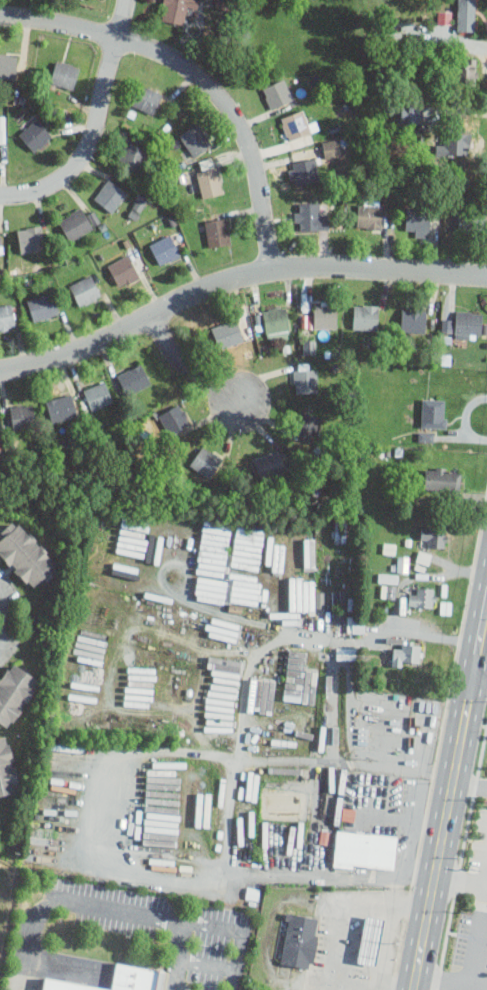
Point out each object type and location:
building: (179, 10)
building: (466, 15)
building: (446, 16)
building: (8, 65)
building: (464, 71)
building: (64, 74)
road: (198, 76)
building: (278, 93)
building: (145, 99)
road: (95, 124)
building: (298, 125)
building: (35, 135)
building: (196, 139)
building: (456, 143)
building: (333, 147)
building: (132, 156)
building: (305, 171)
building: (210, 181)
building: (109, 195)
building: (140, 204)
building: (369, 213)
building: (313, 219)
building: (418, 220)
building: (472, 221)
building: (78, 223)
building: (218, 231)
building: (31, 239)
building: (1, 241)
building: (164, 249)
building: (122, 269)
road: (234, 279)
building: (85, 290)
building: (43, 306)
building: (323, 313)
building: (7, 316)
building: (365, 316)
building: (413, 320)
building: (276, 322)
building: (467, 323)
building: (449, 325)
building: (227, 333)
road: (188, 369)
building: (133, 379)
building: (306, 379)
building: (97, 395)
building: (61, 407)
building: (434, 413)
building: (21, 415)
building: (175, 418)
building: (307, 425)
building: (206, 461)
building: (271, 464)
building: (441, 478)
building: (433, 536)
building: (309, 550)
building: (25, 555)
building: (423, 559)
building: (403, 563)
building: (126, 567)
building: (388, 577)
building: (210, 589)
building: (387, 590)
building: (306, 591)
building: (421, 596)
building: (446, 606)
road: (1, 608)
road: (3, 627)
road: (382, 633)
building: (407, 652)
building: (347, 653)
road: (481, 667)
building: (300, 678)
road: (249, 687)
building: (14, 692)
building: (265, 695)
building: (7, 768)
road: (470, 786)
road: (450, 798)
road: (99, 804)
building: (204, 810)
building: (364, 849)
road: (461, 881)
road: (139, 912)
road: (477, 938)
building: (373, 941)
building: (299, 942)
road: (178, 955)
road: (206, 962)
road: (62, 966)
road: (19, 974)
building: (137, 978)
road: (451, 982)
building: (66, 986)

